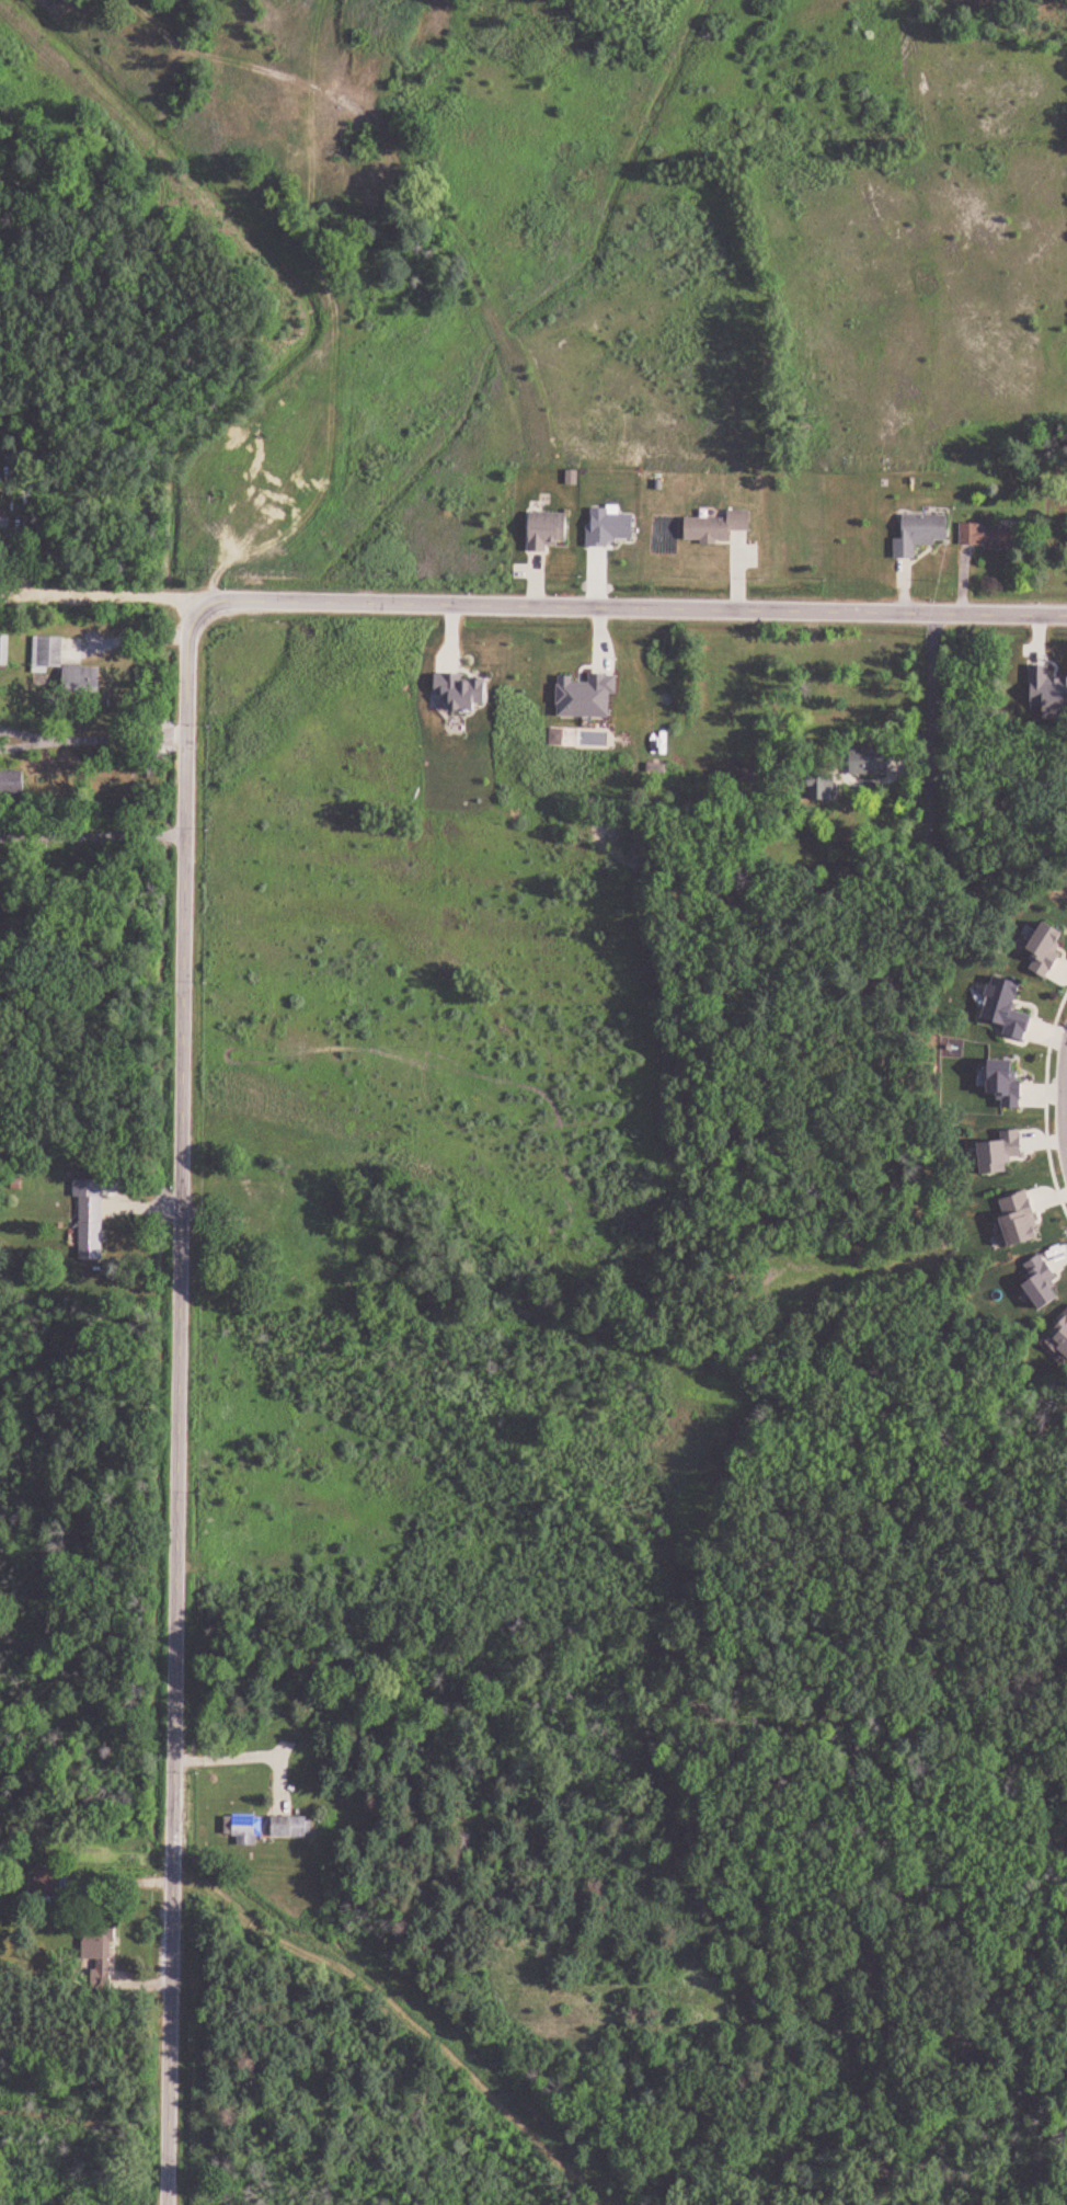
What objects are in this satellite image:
road: (500, 26)
road: (437, 227)
road: (312, 251)
road: (409, 362)
building: (719, 527)
building: (551, 530)
building: (923, 534)
building: (993, 537)
road: (106, 603)
road: (634, 608)
building: (49, 654)
building: (85, 678)
road: (934, 692)
road: (94, 734)
building: (873, 762)
building: (14, 781)
building: (825, 786)
road: (93, 833)
building: (263, 1224)
building: (94, 1229)
road: (179, 1405)
building: (294, 1827)
building: (249, 1829)
building: (48, 1881)
building: (102, 1950)
road: (400, 2015)

